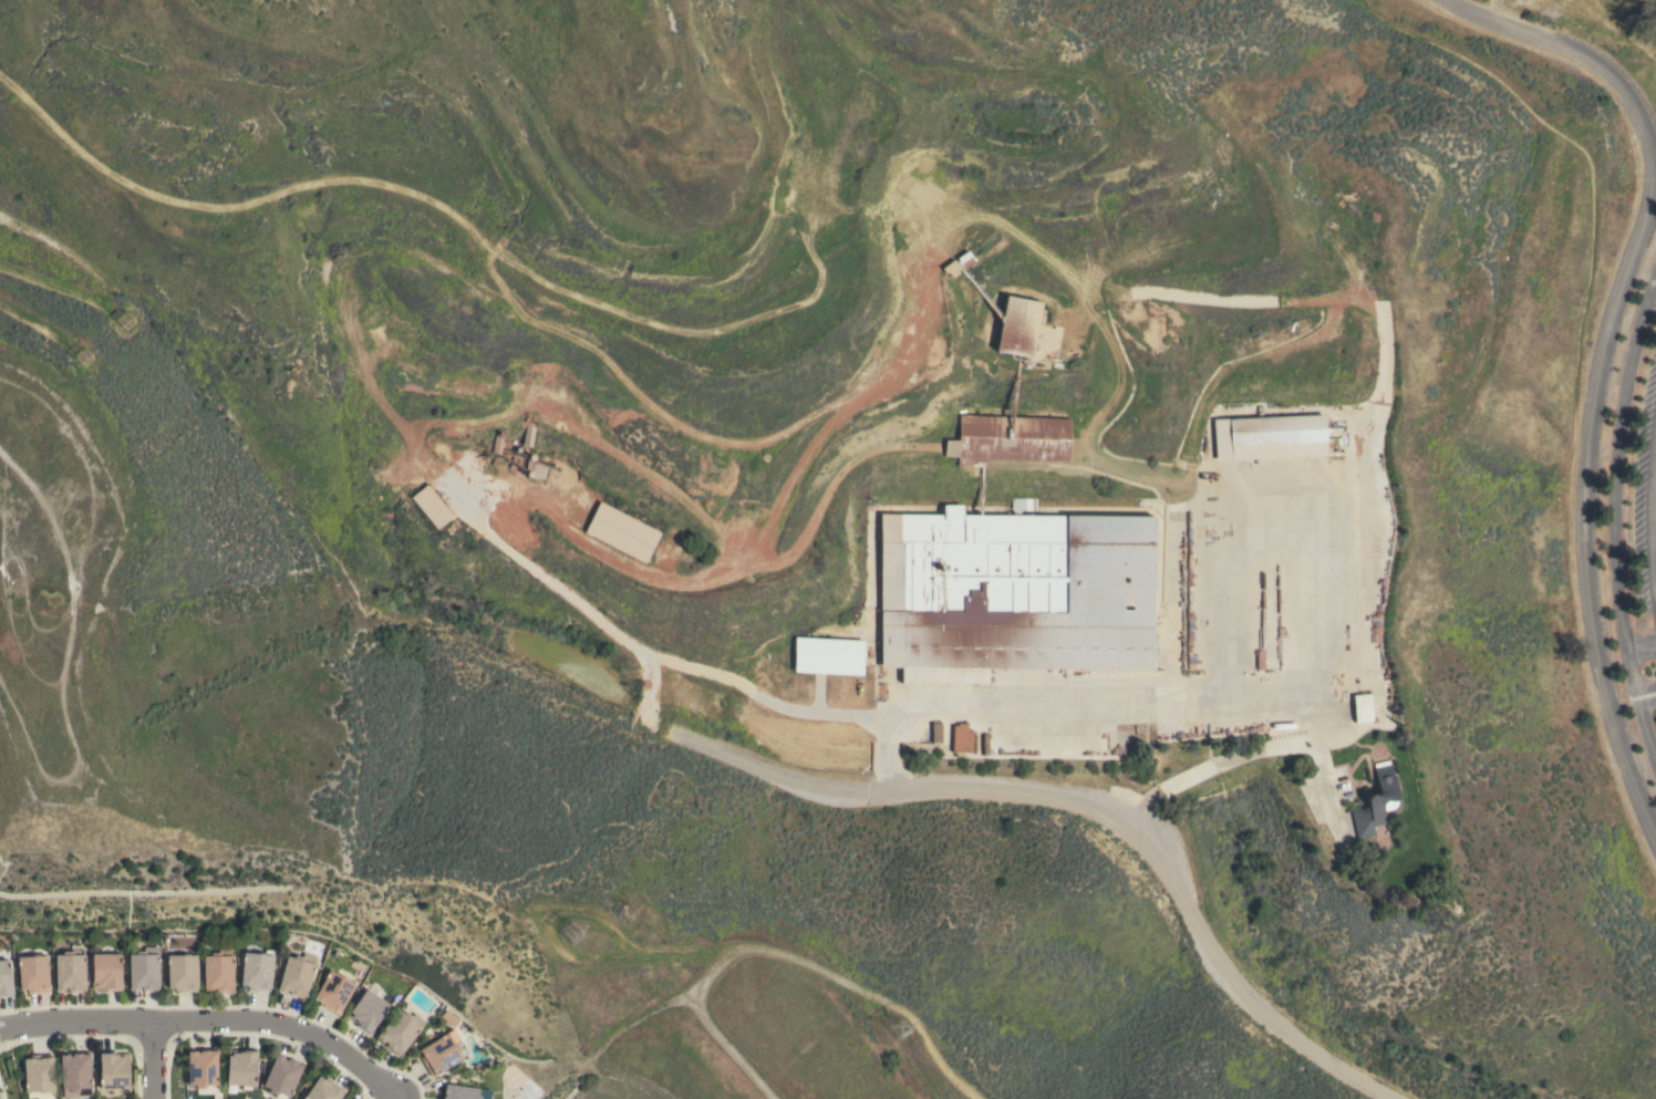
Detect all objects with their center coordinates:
road: (1586, 252)
power tower: (125, 324)
building: (1017, 325)
park: (1493, 325)
power tower: (93, 356)
road: (1603, 360)
building: (527, 434)
building: (1270, 437)
building: (1008, 439)
parking lot: (1646, 500)
building: (431, 506)
road: (304, 508)
road: (1653, 512)
road: (1615, 520)
building: (621, 532)
building: (682, 557)
building: (1015, 593)
road: (1642, 650)
road: (643, 653)
building: (828, 655)
road: (1647, 696)
road: (1128, 699)
building: (1362, 707)
building: (934, 733)
building: (960, 737)
building: (1376, 801)
road: (1086, 807)
power tower: (630, 914)
power tower: (582, 940)
building: (144, 970)
building: (256, 971)
building: (70, 972)
building: (106, 972)
building: (183, 972)
building: (218, 972)
building: (33, 973)
building: (297, 974)
building: (4, 978)
building: (333, 992)
building: (366, 1010)
building: (448, 1017)
road: (211, 1022)
building: (400, 1030)
power tower: (905, 1039)
building: (442, 1051)
road: (155, 1060)
building: (201, 1068)
building: (241, 1068)
building: (113, 1070)
building: (74, 1075)
building: (39, 1076)
building: (281, 1077)
building: (323, 1089)
building: (464, 1092)

